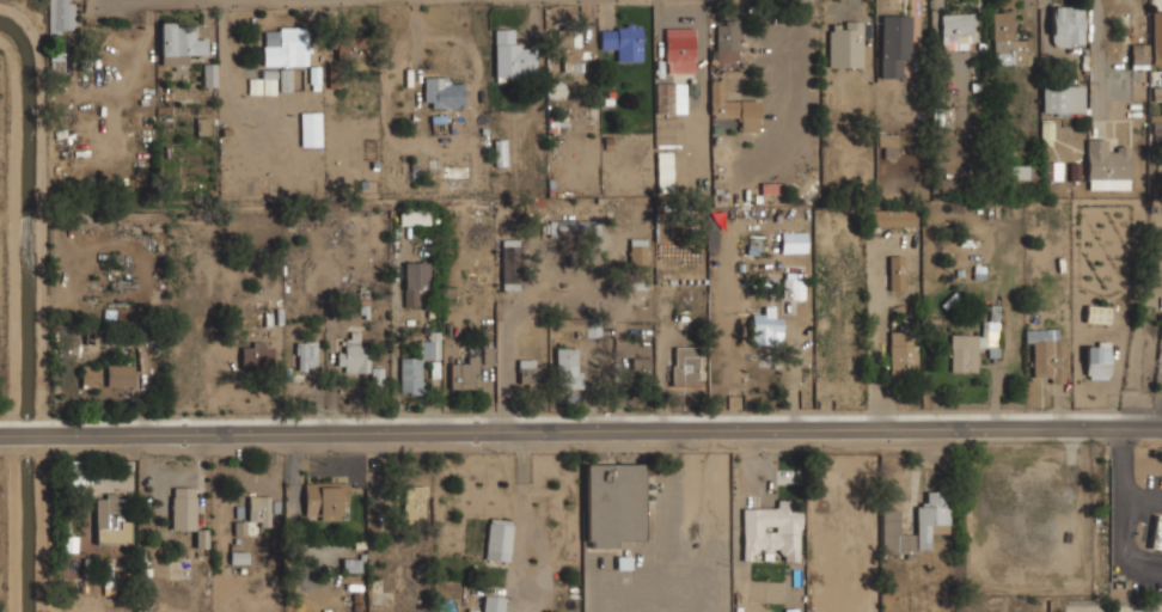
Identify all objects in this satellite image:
road: (181, 1)
building: (60, 16)
building: (1068, 25)
building: (958, 31)
building: (1156, 37)
building: (1008, 41)
building: (182, 42)
building: (625, 42)
building: (727, 42)
building: (846, 44)
building: (895, 45)
building: (286, 47)
building: (573, 50)
building: (680, 50)
building: (351, 51)
road: (1100, 54)
building: (1138, 54)
building: (513, 55)
building: (57, 63)
building: (209, 75)
building: (286, 80)
building: (262, 86)
building: (442, 92)
building: (1157, 96)
building: (666, 98)
building: (1063, 99)
building: (734, 109)
building: (944, 116)
building: (201, 126)
building: (301, 129)
building: (1157, 130)
building: (888, 143)
building: (1106, 166)
building: (1052, 170)
building: (665, 171)
building: (1075, 171)
building: (1023, 176)
building: (414, 216)
building: (892, 219)
building: (573, 228)
building: (638, 253)
building: (510, 264)
building: (897, 273)
building: (416, 281)
building: (791, 286)
building: (1097, 313)
building: (763, 326)
road: (1010, 333)
road: (875, 339)
building: (966, 351)
building: (257, 354)
building: (903, 354)
building: (306, 355)
building: (1047, 355)
building: (353, 356)
building: (1096, 360)
building: (685, 366)
building: (415, 367)
building: (568, 368)
building: (641, 369)
building: (528, 372)
building: (464, 374)
building: (106, 375)
road: (580, 429)
building: (74, 476)
building: (325, 500)
building: (414, 504)
building: (614, 504)
building: (183, 508)
building: (255, 515)
building: (931, 518)
building: (112, 519)
building: (771, 531)
building: (897, 533)
building: (1157, 534)
building: (499, 539)
building: (239, 557)
building: (493, 604)
building: (469, 611)
building: (794, 611)

